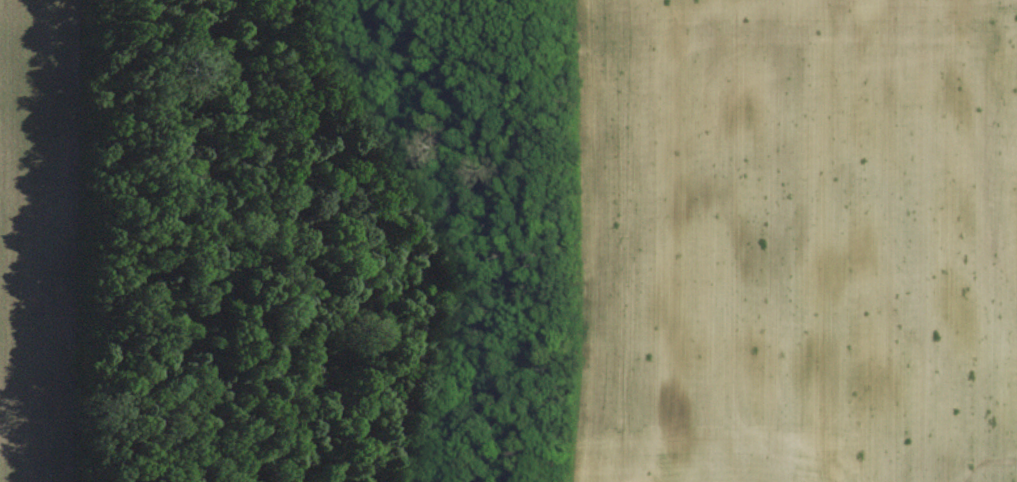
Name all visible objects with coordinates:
road: (475, 434)

